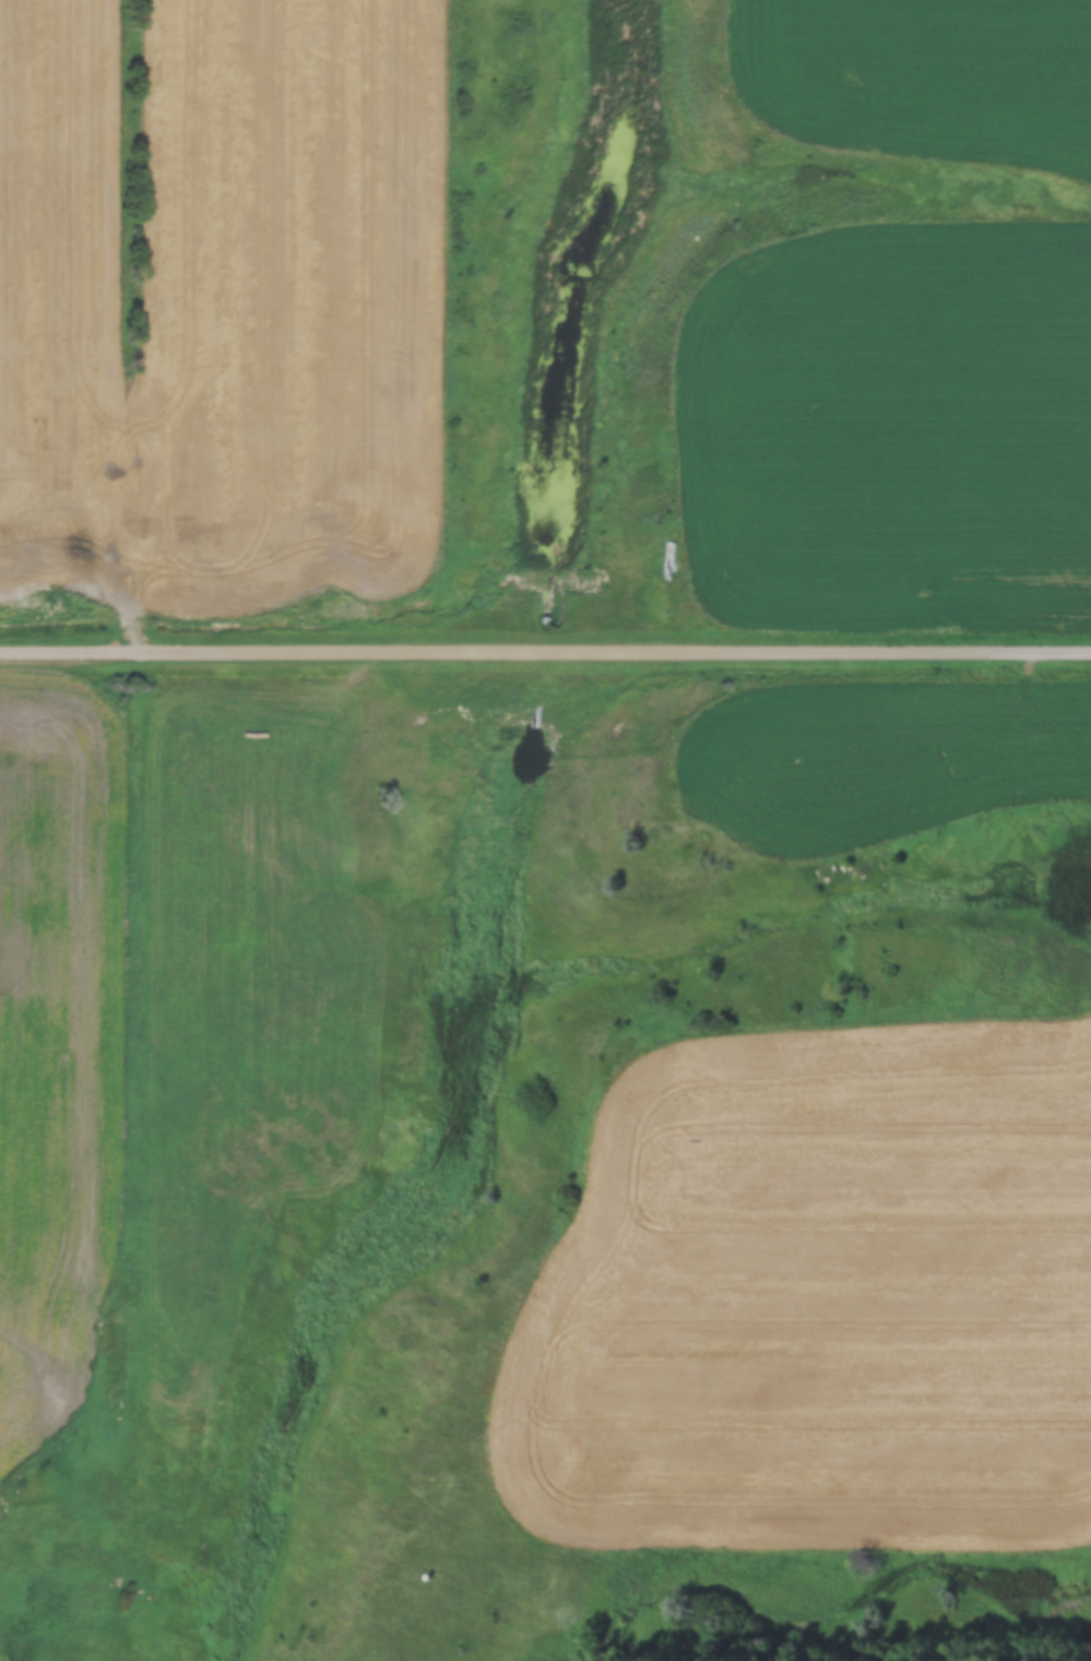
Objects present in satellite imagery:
road: (545, 652)

